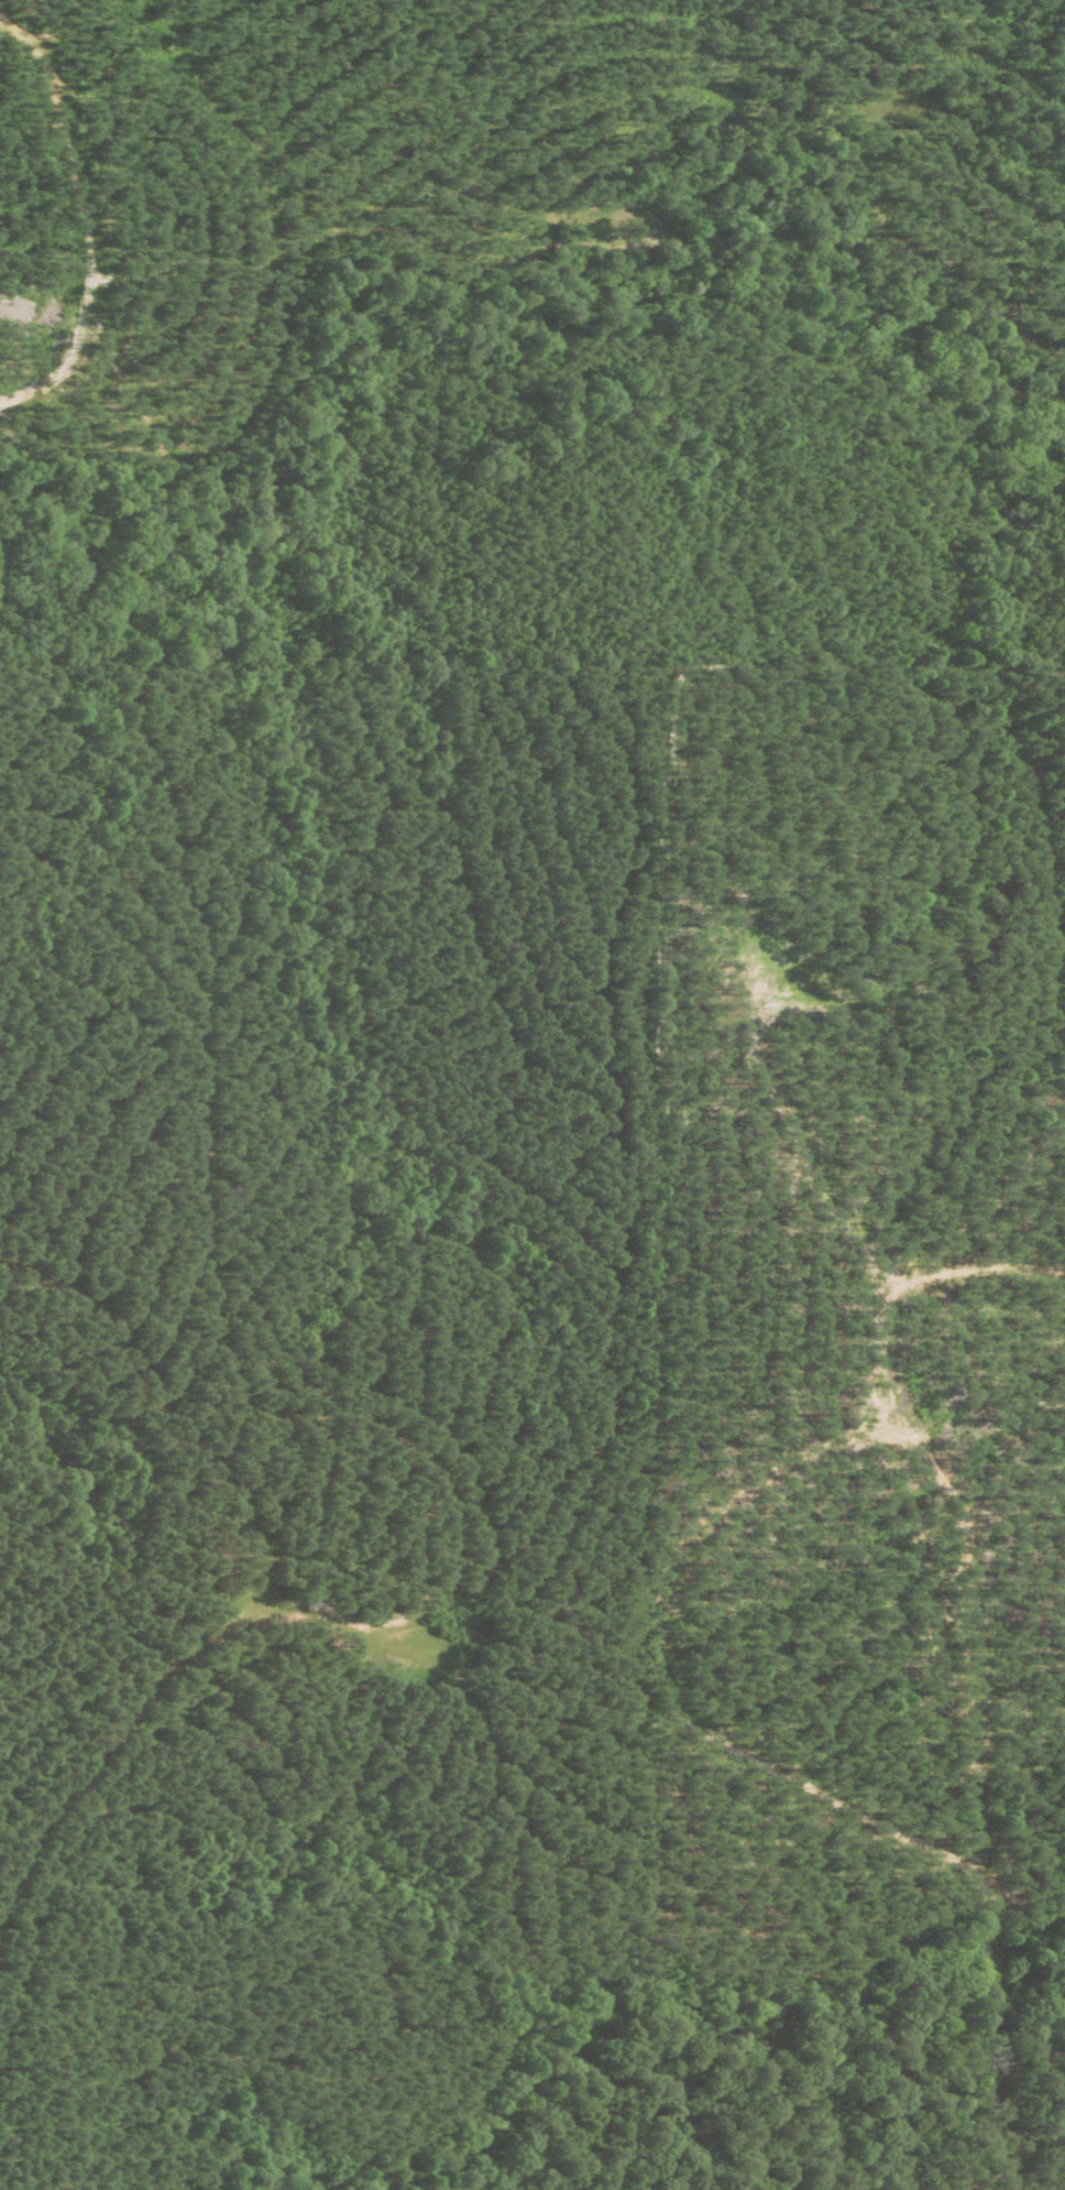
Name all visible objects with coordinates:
road: (865, 2090)

